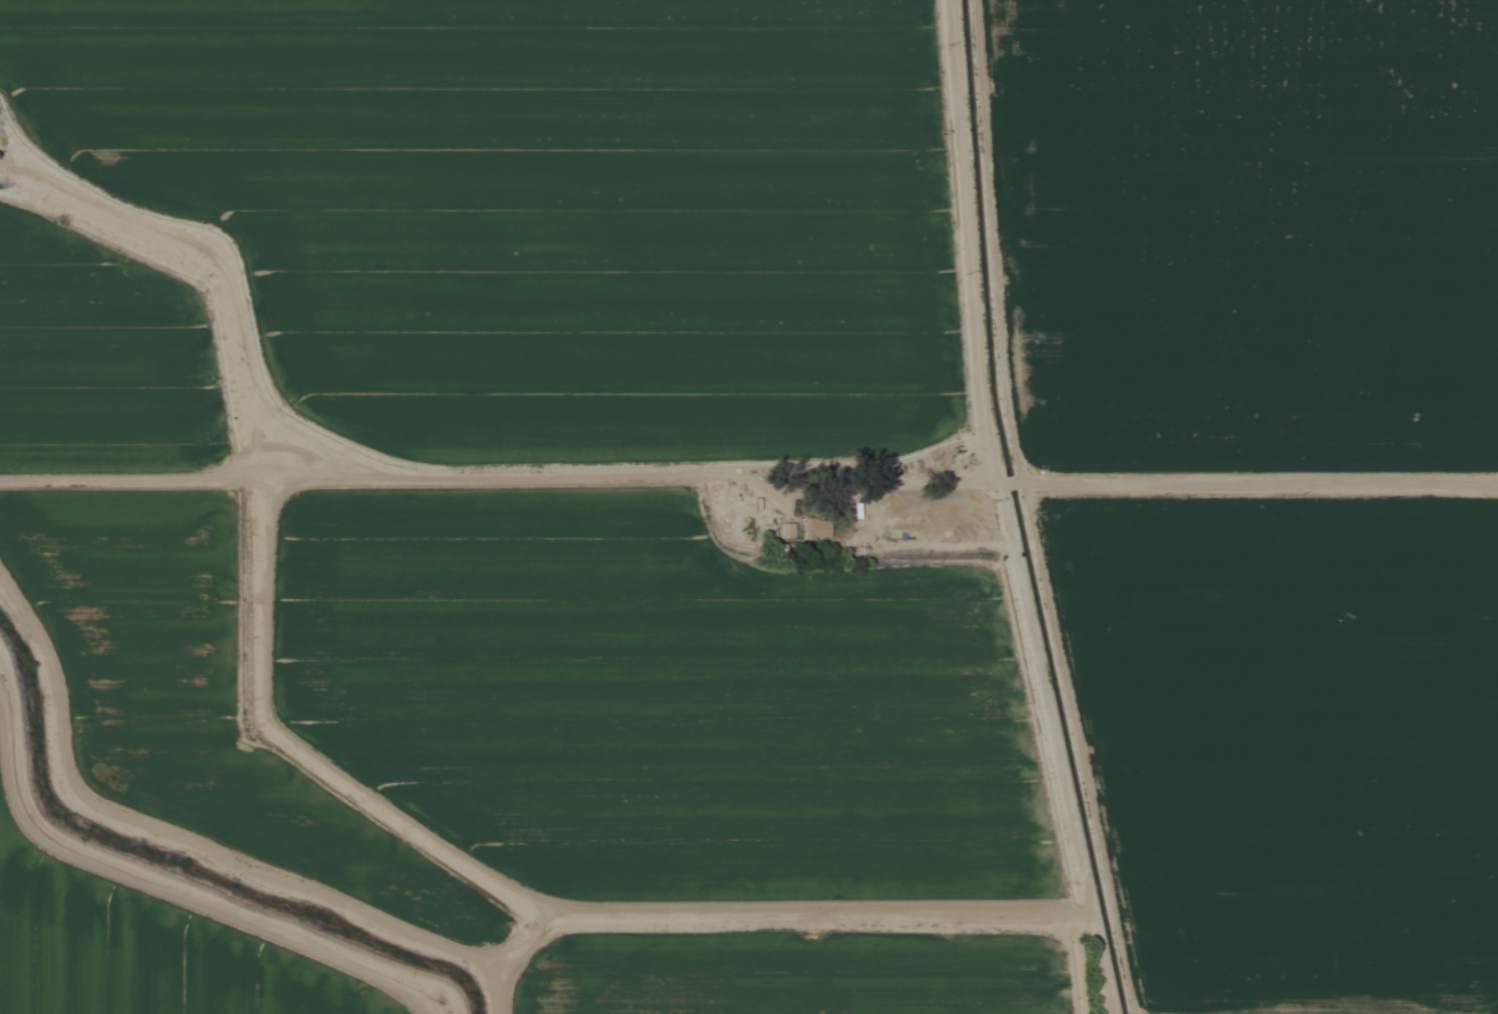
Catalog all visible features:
building: (816, 529)

